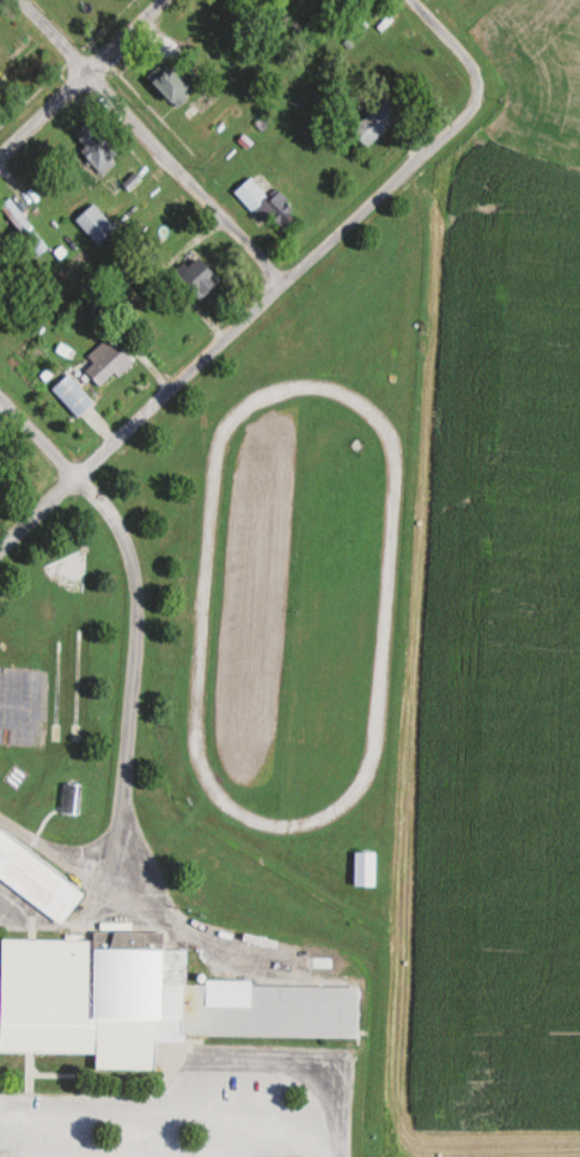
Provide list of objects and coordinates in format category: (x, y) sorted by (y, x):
road: (458, 50)
building: (19, 73)
road: (81, 77)
building: (178, 83)
building: (379, 122)
road: (151, 141)
building: (99, 146)
building: (269, 203)
building: (19, 219)
building: (98, 224)
building: (0, 267)
building: (202, 276)
road: (233, 328)
building: (109, 361)
building: (74, 396)
road: (38, 436)
road: (130, 656)
road: (60, 859)
building: (367, 867)
building: (37, 878)
building: (151, 1000)
road: (196, 1104)

